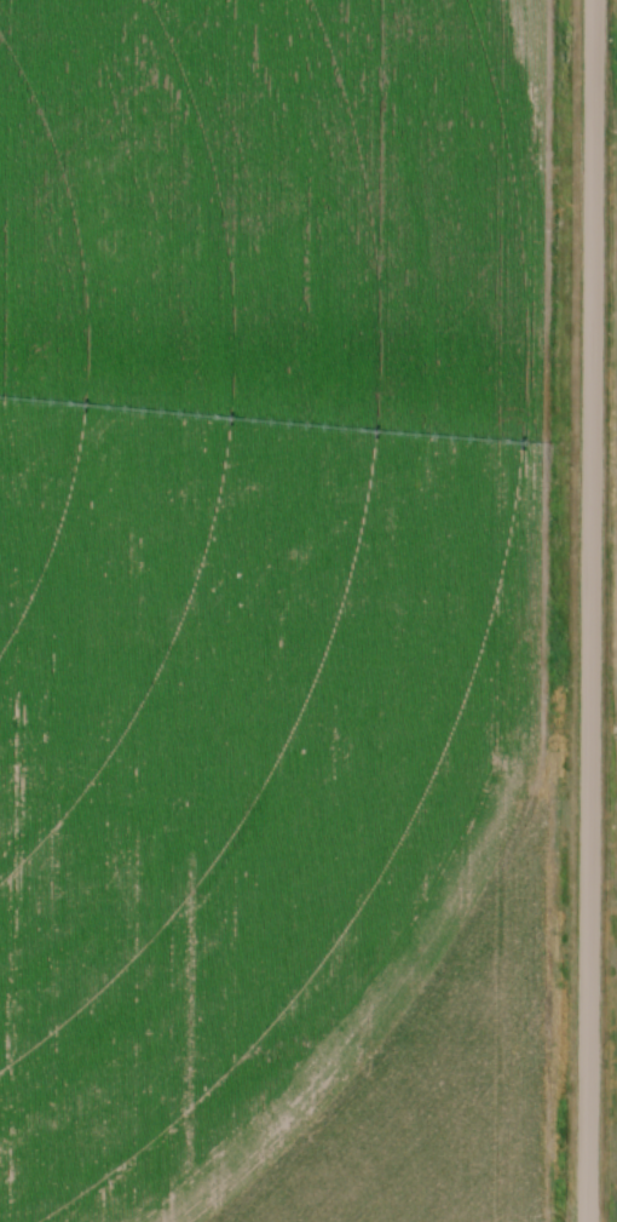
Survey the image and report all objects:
road: (592, 610)

